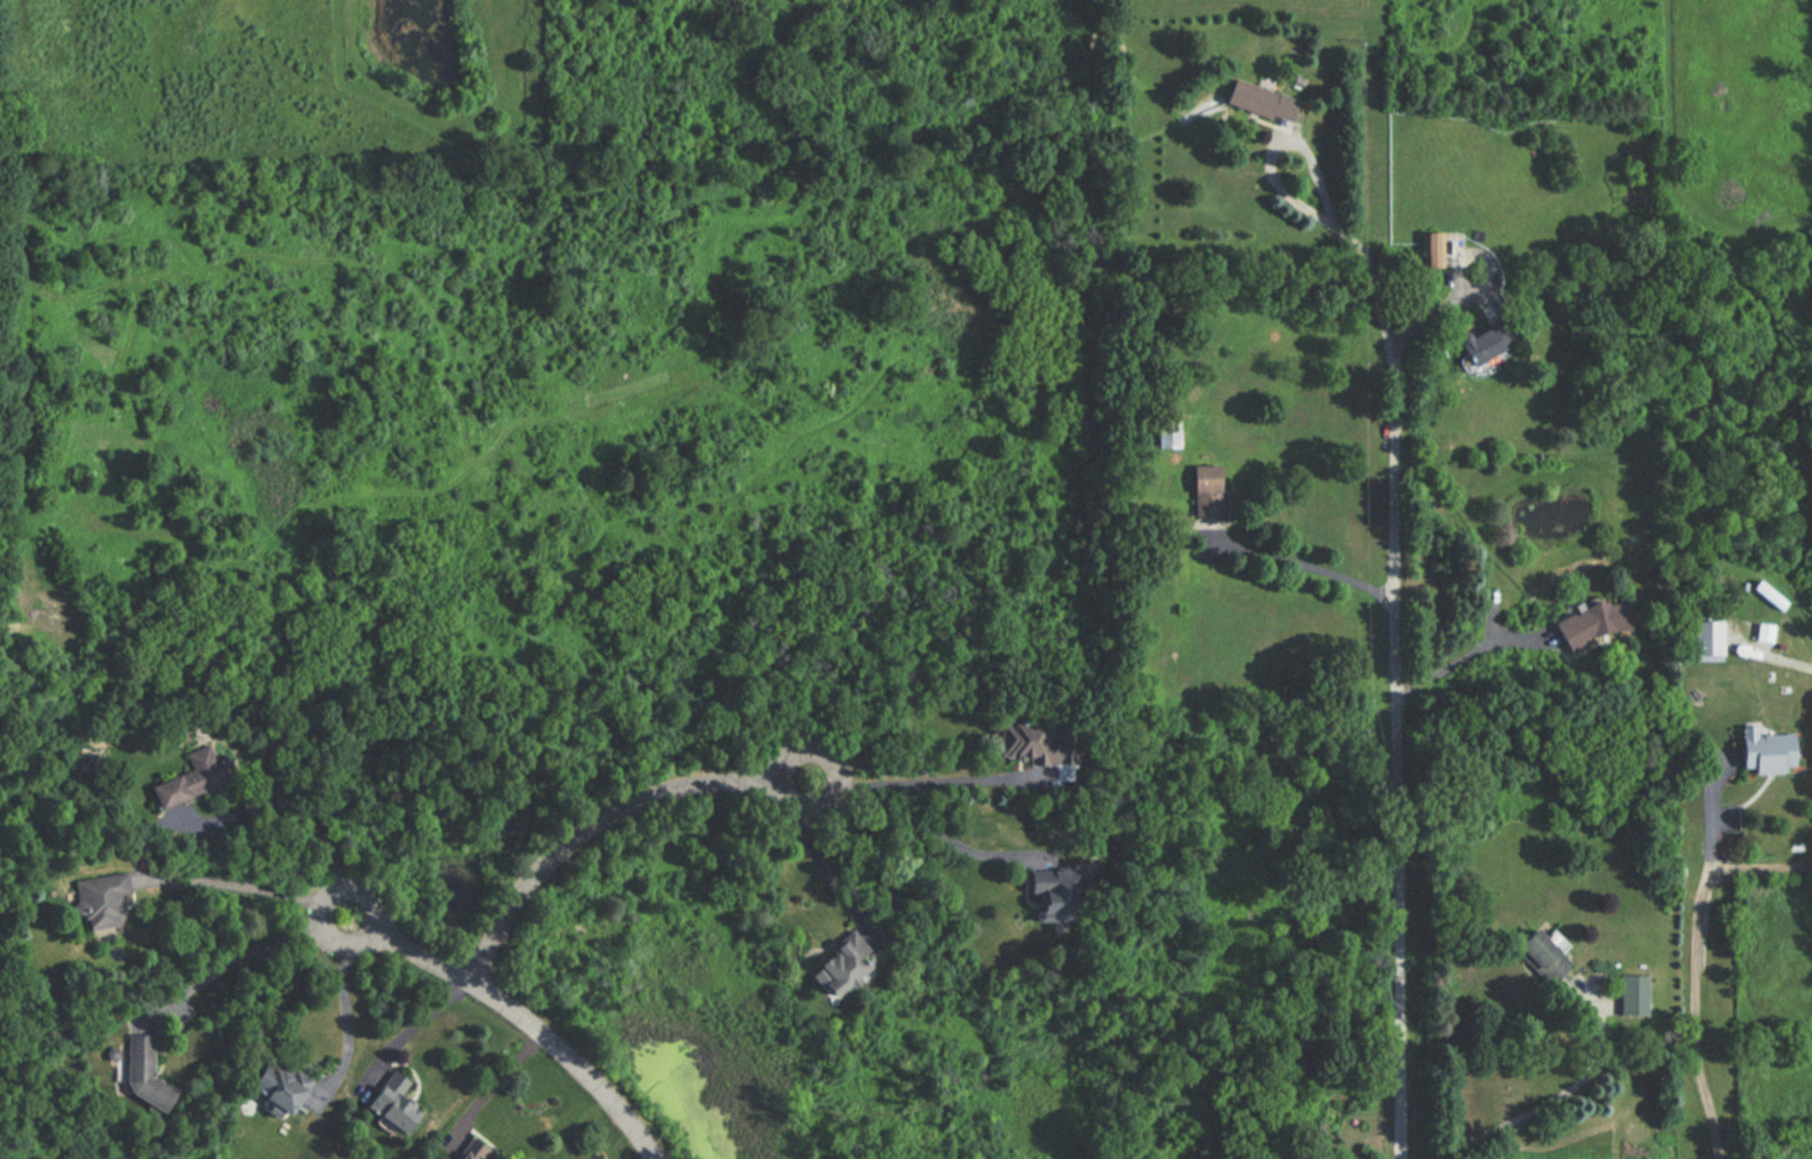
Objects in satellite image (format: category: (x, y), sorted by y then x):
building: (1257, 101)
road: (1345, 240)
building: (1472, 345)
building: (1166, 430)
road: (1312, 573)
building: (1770, 597)
building: (1760, 632)
building: (1706, 640)
road: (1470, 657)
road: (1789, 659)
building: (1027, 742)
building: (1762, 752)
road: (1396, 761)
building: (197, 772)
road: (920, 784)
road: (298, 811)
road: (604, 823)
road: (919, 828)
road: (818, 868)
road: (246, 888)
building: (1045, 895)
building: (99, 898)
building: (1539, 955)
road: (244, 960)
road: (1695, 964)
building: (835, 966)
building: (1631, 996)
road: (346, 1009)
road: (521, 1014)
road: (417, 1026)
building: (138, 1073)
road: (496, 1083)
building: (273, 1087)
road: (1549, 1099)
building: (387, 1104)
building: (466, 1152)

